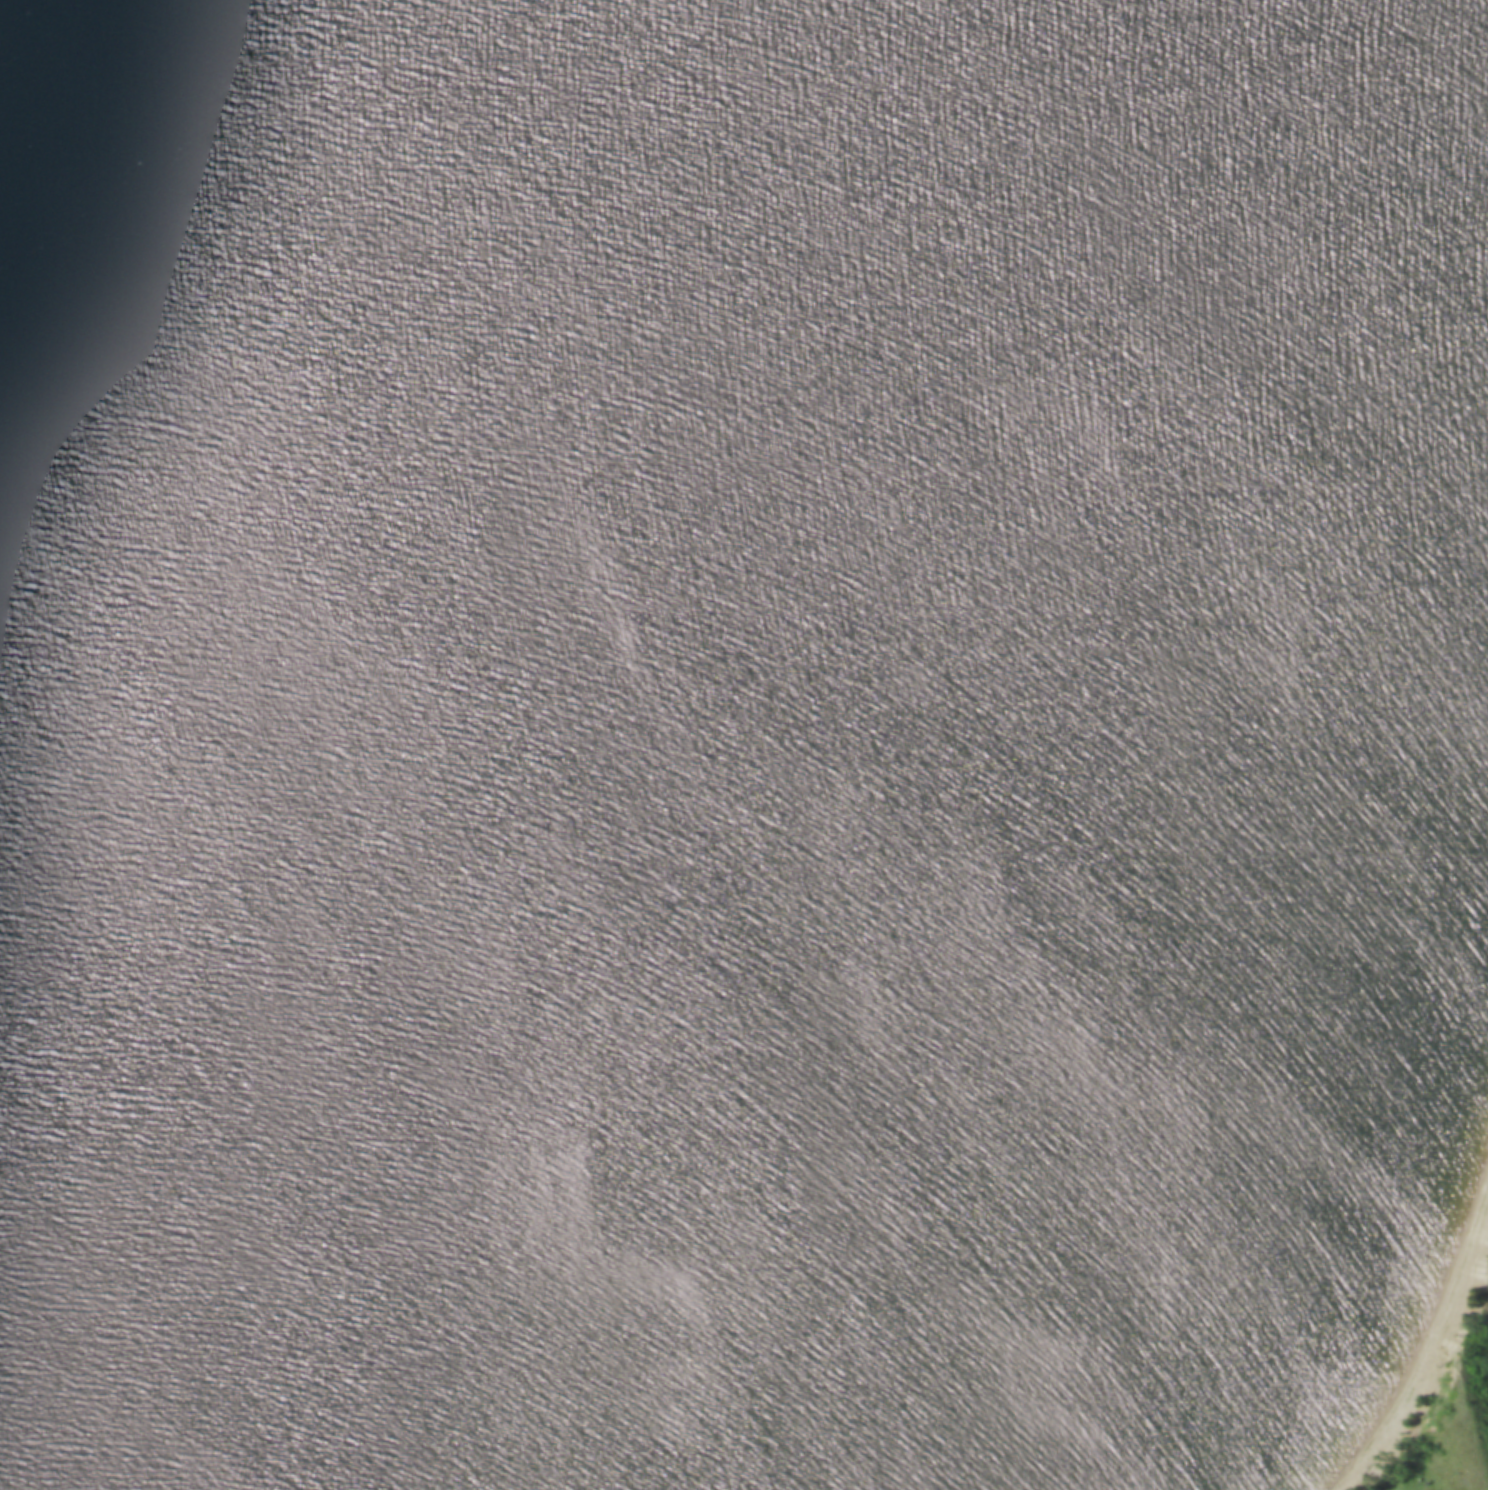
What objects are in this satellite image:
river: (610, 367)

